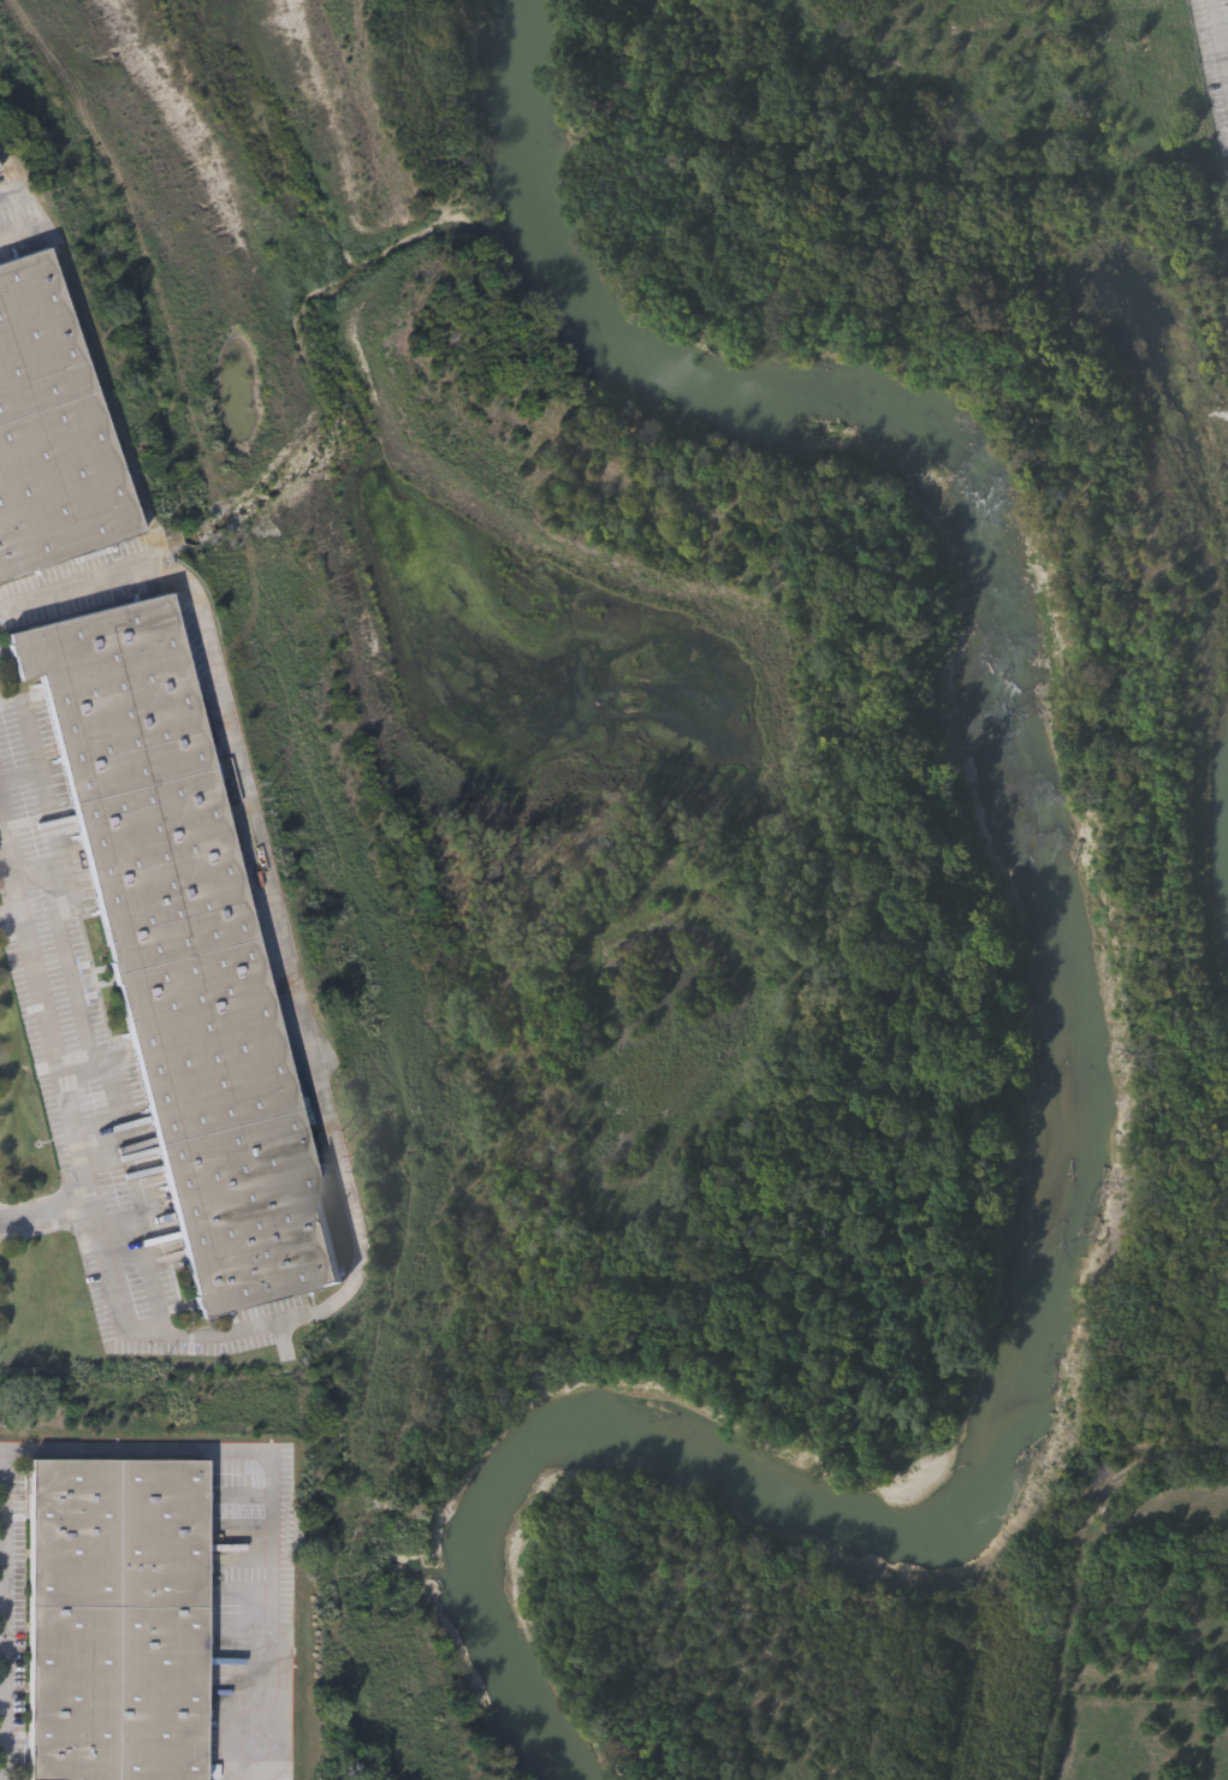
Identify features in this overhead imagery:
road: (1218, 41)
road: (11, 200)
building: (53, 428)
building: (183, 947)
river: (1044, 1009)
road: (307, 1015)
road: (53, 1048)
road: (272, 1482)
road: (6, 1614)
building: (118, 1618)
road: (4, 1695)

